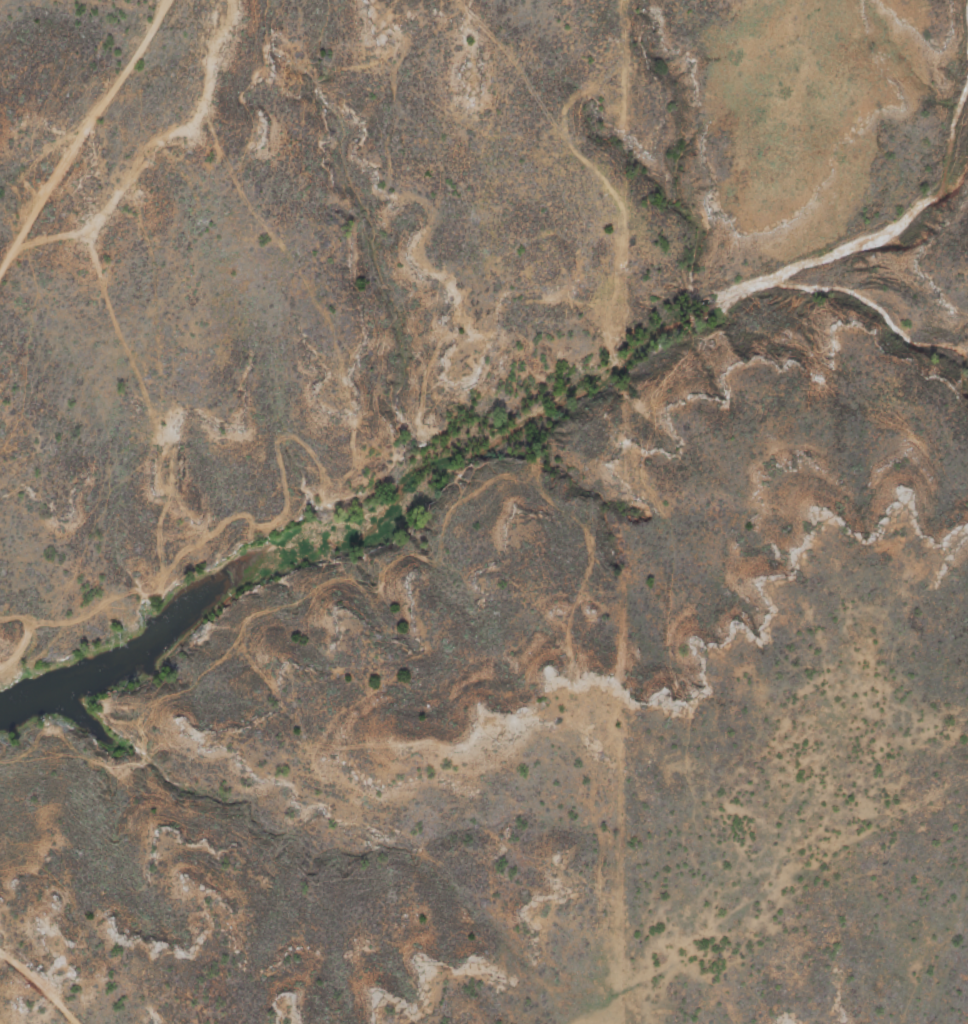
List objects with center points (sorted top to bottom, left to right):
road: (81, 136)
road: (759, 892)
road: (40, 984)

